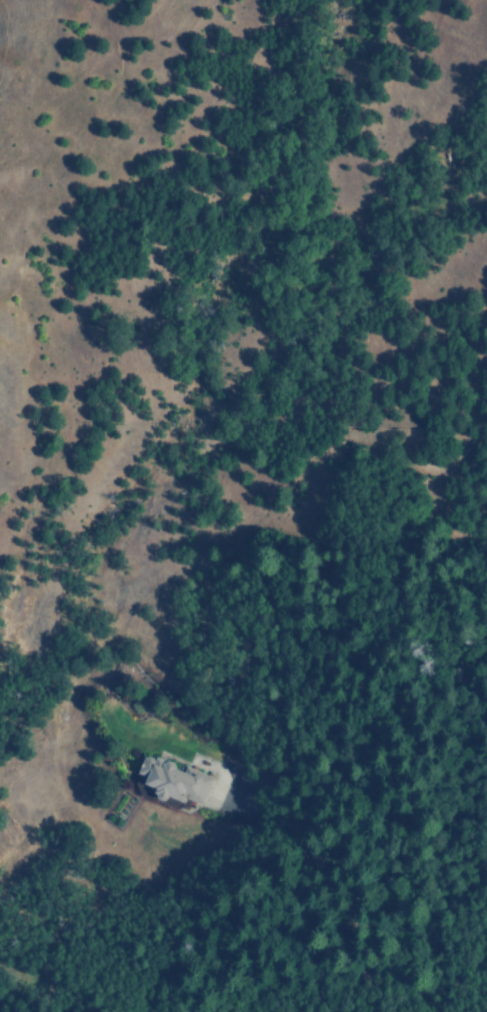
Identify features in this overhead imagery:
building: (179, 779)
road: (336, 894)

